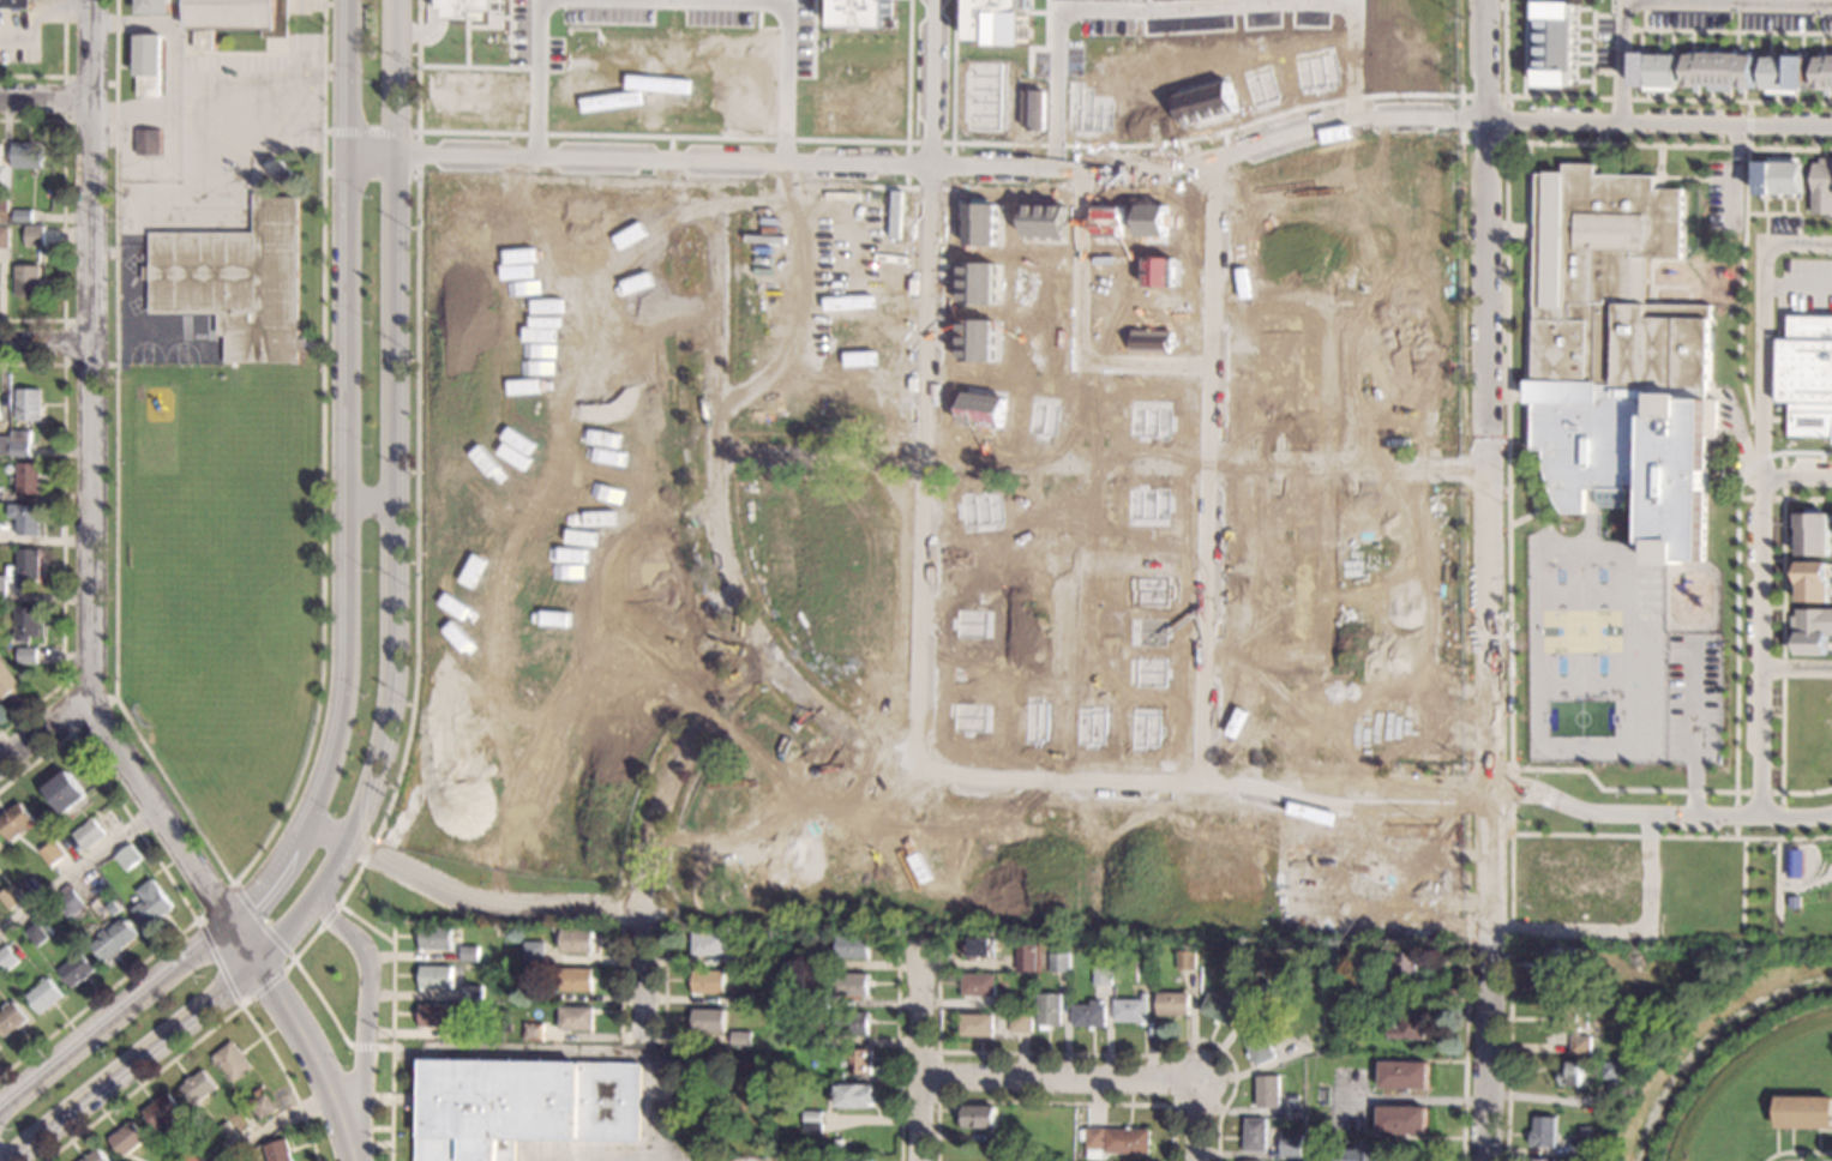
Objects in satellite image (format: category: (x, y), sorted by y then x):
road: (1669, 0)
building: (16, 4)
building: (154, 6)
building: (469, 8)
road: (1083, 10)
building: (861, 13)
parking lot: (1740, 13)
parking lot: (13, 17)
road: (37, 18)
building: (238, 18)
building: (999, 20)
road: (468, 26)
road: (785, 26)
road: (1728, 30)
road: (427, 31)
road: (1353, 37)
road: (1592, 40)
building: (1556, 43)
road: (1522, 49)
parking lot: (19, 54)
building: (149, 64)
road: (495, 67)
road: (61, 68)
building: (1656, 68)
building: (1722, 70)
building: (1825, 72)
building: (1786, 73)
road: (66, 78)
road: (537, 80)
road: (931, 83)
road: (1620, 100)
road: (44, 101)
road: (1748, 124)
road: (370, 131)
road: (488, 134)
road: (1504, 140)
building: (149, 142)
road: (1129, 146)
road: (1461, 149)
building: (1, 154)
building: (26, 155)
road: (1092, 168)
building: (281, 172)
road: (390, 173)
road: (523, 175)
building: (1780, 179)
road: (714, 180)
road: (830, 182)
building: (1822, 185)
building: (2, 194)
road: (1780, 212)
building: (896, 213)
building: (23, 216)
road: (1830, 216)
building: (1, 217)
road: (62, 219)
building: (34, 236)
building: (4, 237)
building: (28, 281)
building: (236, 281)
road: (1797, 285)
road: (1742, 290)
parking lot: (1807, 318)
road: (1762, 330)
road: (1082, 332)
road: (44, 342)
road: (89, 351)
flagpole: (302, 355)
building: (1618, 357)
road: (66, 366)
building: (1807, 374)
building: (28, 403)
building: (0, 419)
building: (19, 443)
building: (4, 445)
road: (554, 451)
road: (734, 452)
road: (819, 456)
road: (921, 463)
building: (7, 468)
road: (1208, 473)
road: (1791, 476)
building: (28, 477)
road: (344, 477)
road: (1465, 491)
road: (1783, 498)
road: (394, 499)
road: (368, 503)
building: (24, 517)
building: (1813, 531)
road: (61, 533)
road: (727, 559)
park: (221, 561)
park: (1576, 564)
building: (26, 566)
road: (1490, 580)
building: (1813, 580)
building: (1, 586)
road: (1509, 615)
building: (26, 622)
building: (1812, 630)
road: (1783, 645)
building: (26, 655)
road: (1762, 656)
road: (750, 666)
road: (1796, 667)
park: (197, 680)
building: (7, 682)
road: (90, 692)
road: (888, 732)
road: (41, 733)
road: (13, 751)
road: (1466, 760)
road: (1281, 788)
building: (65, 790)
road: (1759, 792)
road: (516, 798)
road: (1077, 802)
road: (1510, 810)
road: (154, 812)
building: (16, 820)
road: (330, 829)
road: (654, 831)
building: (88, 835)
road: (1671, 836)
building: (0, 846)
building: (0, 847)
building: (52, 852)
building: (127, 856)
building: (1795, 864)
road: (77, 874)
road: (227, 880)
park: (1665, 883)
road: (178, 892)
building: (8, 897)
building: (1796, 901)
building: (70, 902)
road: (212, 902)
road: (489, 902)
building: (151, 903)
road: (620, 903)
building: (113, 907)
road: (328, 914)
building: (464, 930)
road: (1628, 931)
building: (36, 933)
building: (752, 937)
building: (436, 938)
building: (113, 939)
road: (242, 940)
building: (576, 940)
building: (709, 944)
building: (853, 946)
building: (981, 949)
building: (534, 952)
building: (469, 954)
building: (6, 957)
building: (1027, 958)
building: (1407, 960)
building: (1636, 960)
building: (819, 961)
road: (920, 961)
building: (1185, 961)
building: (1563, 961)
building: (1061, 962)
building: (467, 967)
building: (76, 968)
building: (1116, 970)
building: (1103, 975)
building: (436, 976)
building: (577, 979)
building: (1115, 980)
building: (708, 981)
road: (623, 982)
road: (265, 983)
road: (308, 983)
building: (852, 983)
building: (979, 985)
road: (1509, 986)
building: (1369, 992)
building: (473, 993)
building: (1267, 993)
building: (43, 995)
building: (743, 999)
building: (817, 999)
road: (365, 1000)
building: (1015, 1004)
building: (1173, 1004)
building: (1220, 1009)
building: (1131, 1010)
building: (1050, 1011)
road: (114, 1012)
building: (1365, 1012)
building: (1089, 1015)
building: (436, 1016)
building: (11, 1018)
building: (577, 1018)
building: (709, 1021)
building: (1021, 1022)
building: (853, 1023)
building: (949, 1024)
building: (977, 1024)
building: (1365, 1024)
building: (507, 1027)
building: (1576, 1027)
building: (1411, 1028)
road: (208, 1030)
building: (471, 1031)
building: (534, 1031)
building: (741, 1039)
building: (817, 1039)
road: (391, 1041)
road: (371, 1046)
building: (1259, 1046)
road: (902, 1047)
river: (1712, 1048)
road: (1083, 1052)
road: (313, 1057)
road: (131, 1060)
building: (230, 1061)
building: (858, 1061)
building: (1612, 1071)
building: (1624, 1071)
building: (1573, 1073)
building: (1405, 1075)
road: (1059, 1076)
building: (840, 1077)
building: (196, 1087)
building: (257, 1090)
building: (1268, 1091)
road: (938, 1094)
building: (854, 1095)
road: (1407, 1097)
road: (1175, 1100)
road: (1055, 1102)
building: (262, 1106)
building: (523, 1106)
building: (1293, 1109)
building: (162, 1112)
building: (1804, 1112)
building: (979, 1117)
road: (1199, 1119)
building: (1402, 1120)
building: (813, 1121)
road: (272, 1123)
building: (1544, 1131)
building: (224, 1133)
building: (1081, 1135)
building: (1256, 1135)
building: (1005, 1136)
building: (126, 1138)
building: (1116, 1141)
building: (1292, 1144)
building: (1581, 1145)
building: (277, 1150)
road: (1797, 1150)
building: (1362, 1153)
building: (1279, 1154)
road: (4, 1155)
building: (188, 1155)
building: (94, 1156)
road: (1800, 1156)
building: (855, 1160)
building: (1543, 1160)

